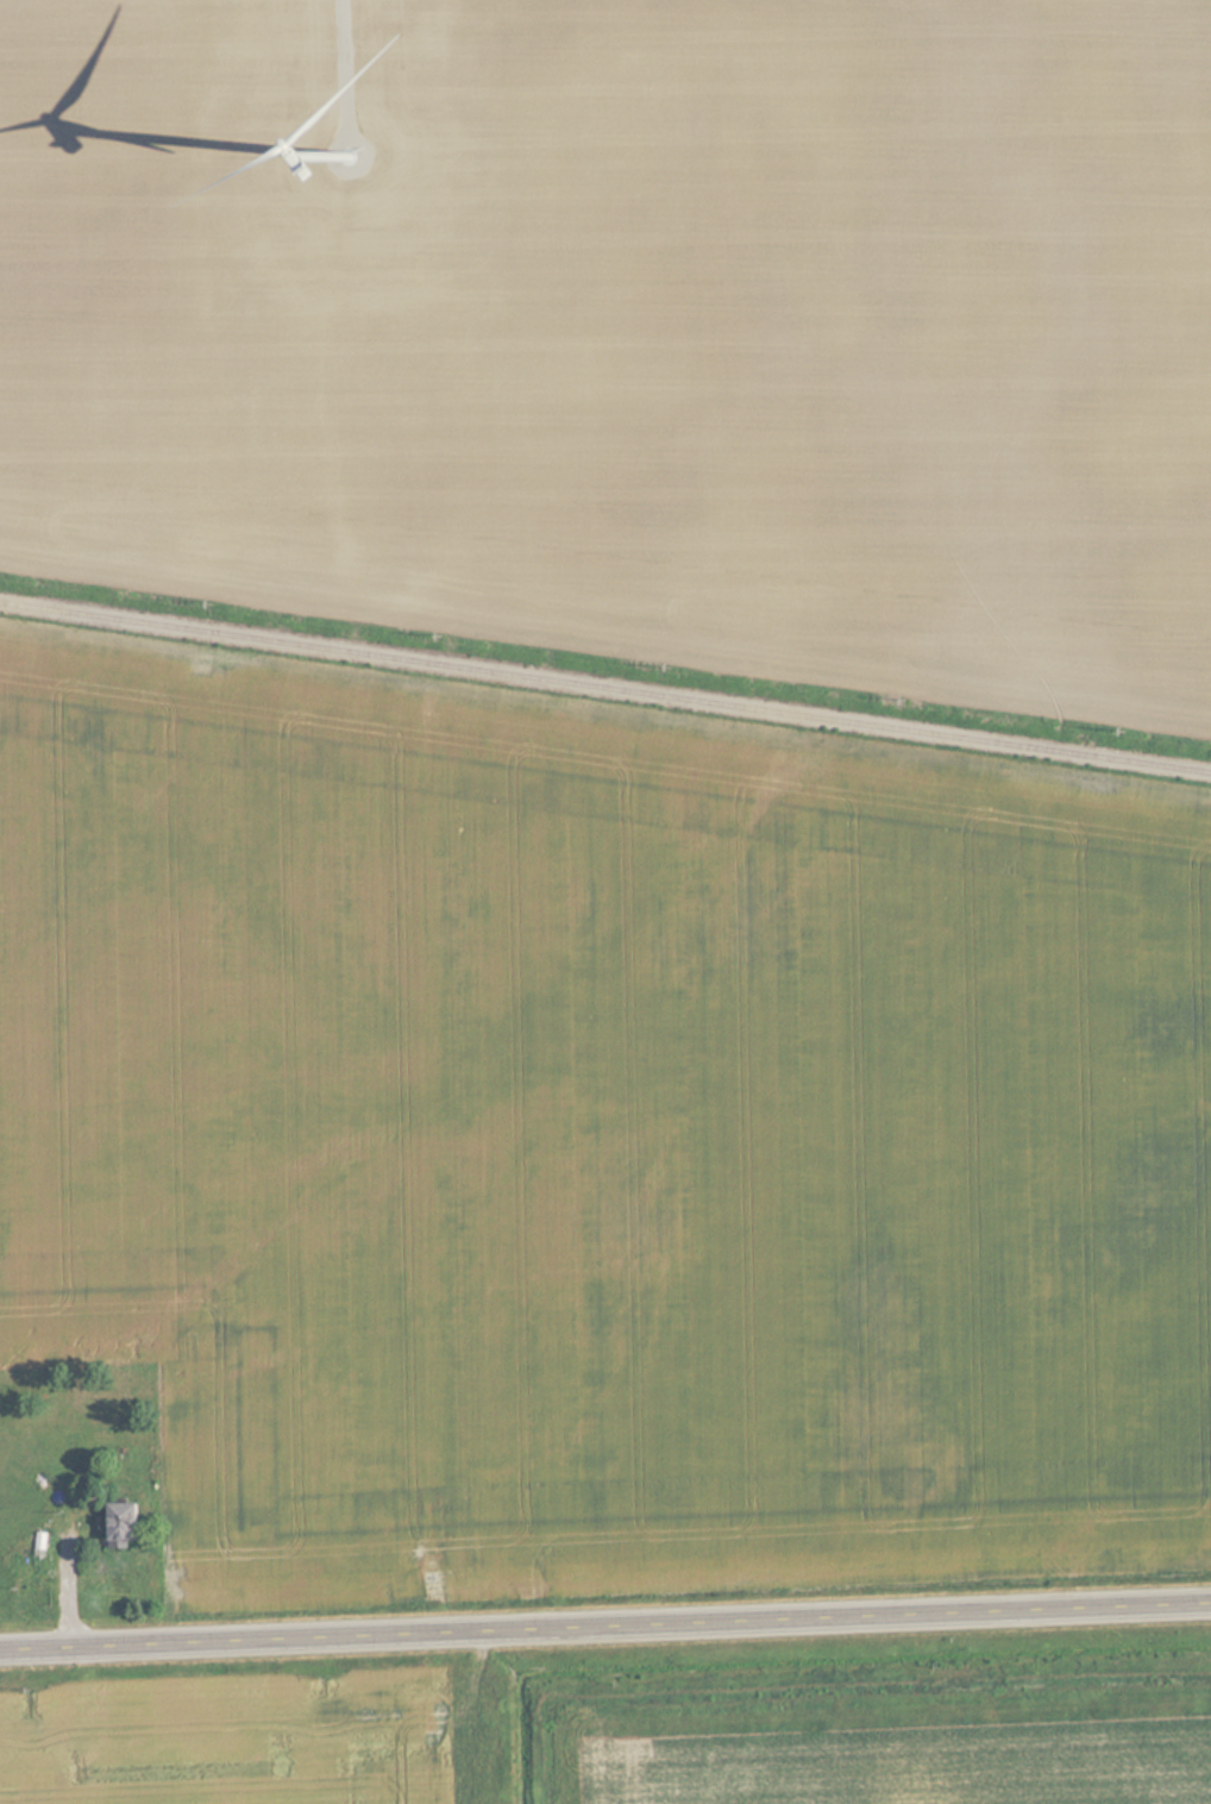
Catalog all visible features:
wind turbine: (352, 150)
railway: (605, 685)
building: (132, 1523)
road: (605, 1624)

